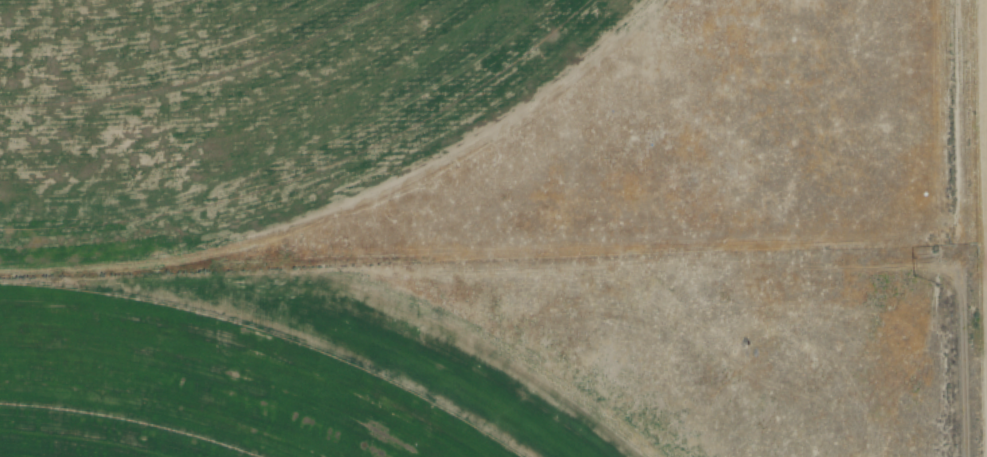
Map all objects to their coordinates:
road: (961, 228)

